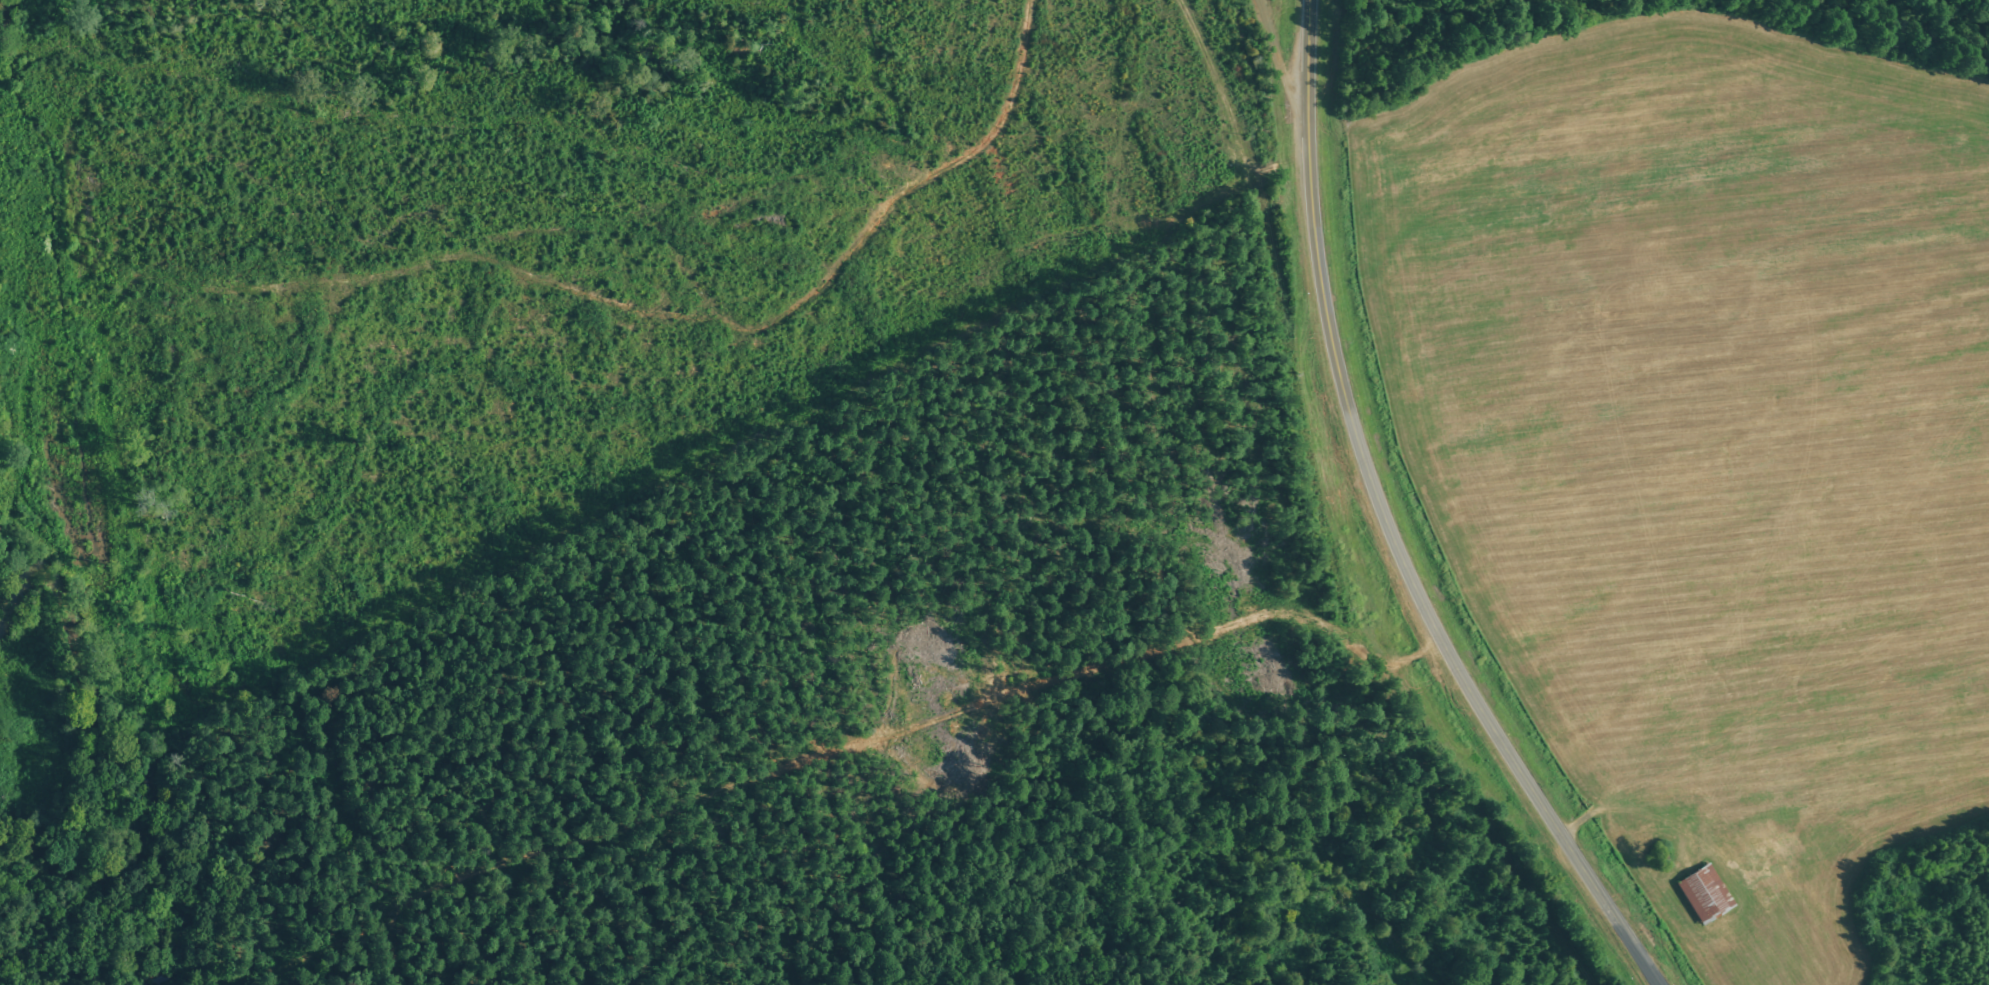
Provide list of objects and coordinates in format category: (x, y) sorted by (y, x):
road: (1259, 51)
road: (1388, 523)
building: (1707, 893)

